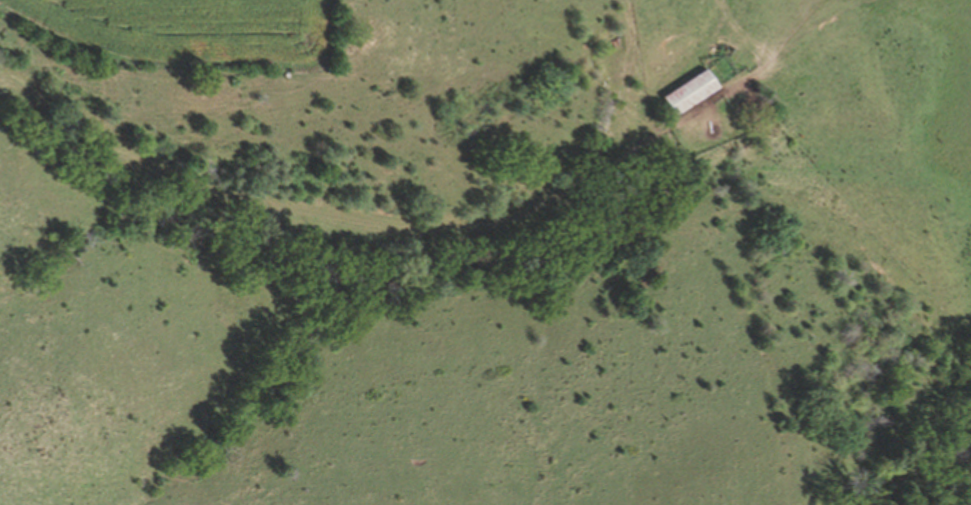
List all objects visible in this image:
building: (696, 91)

